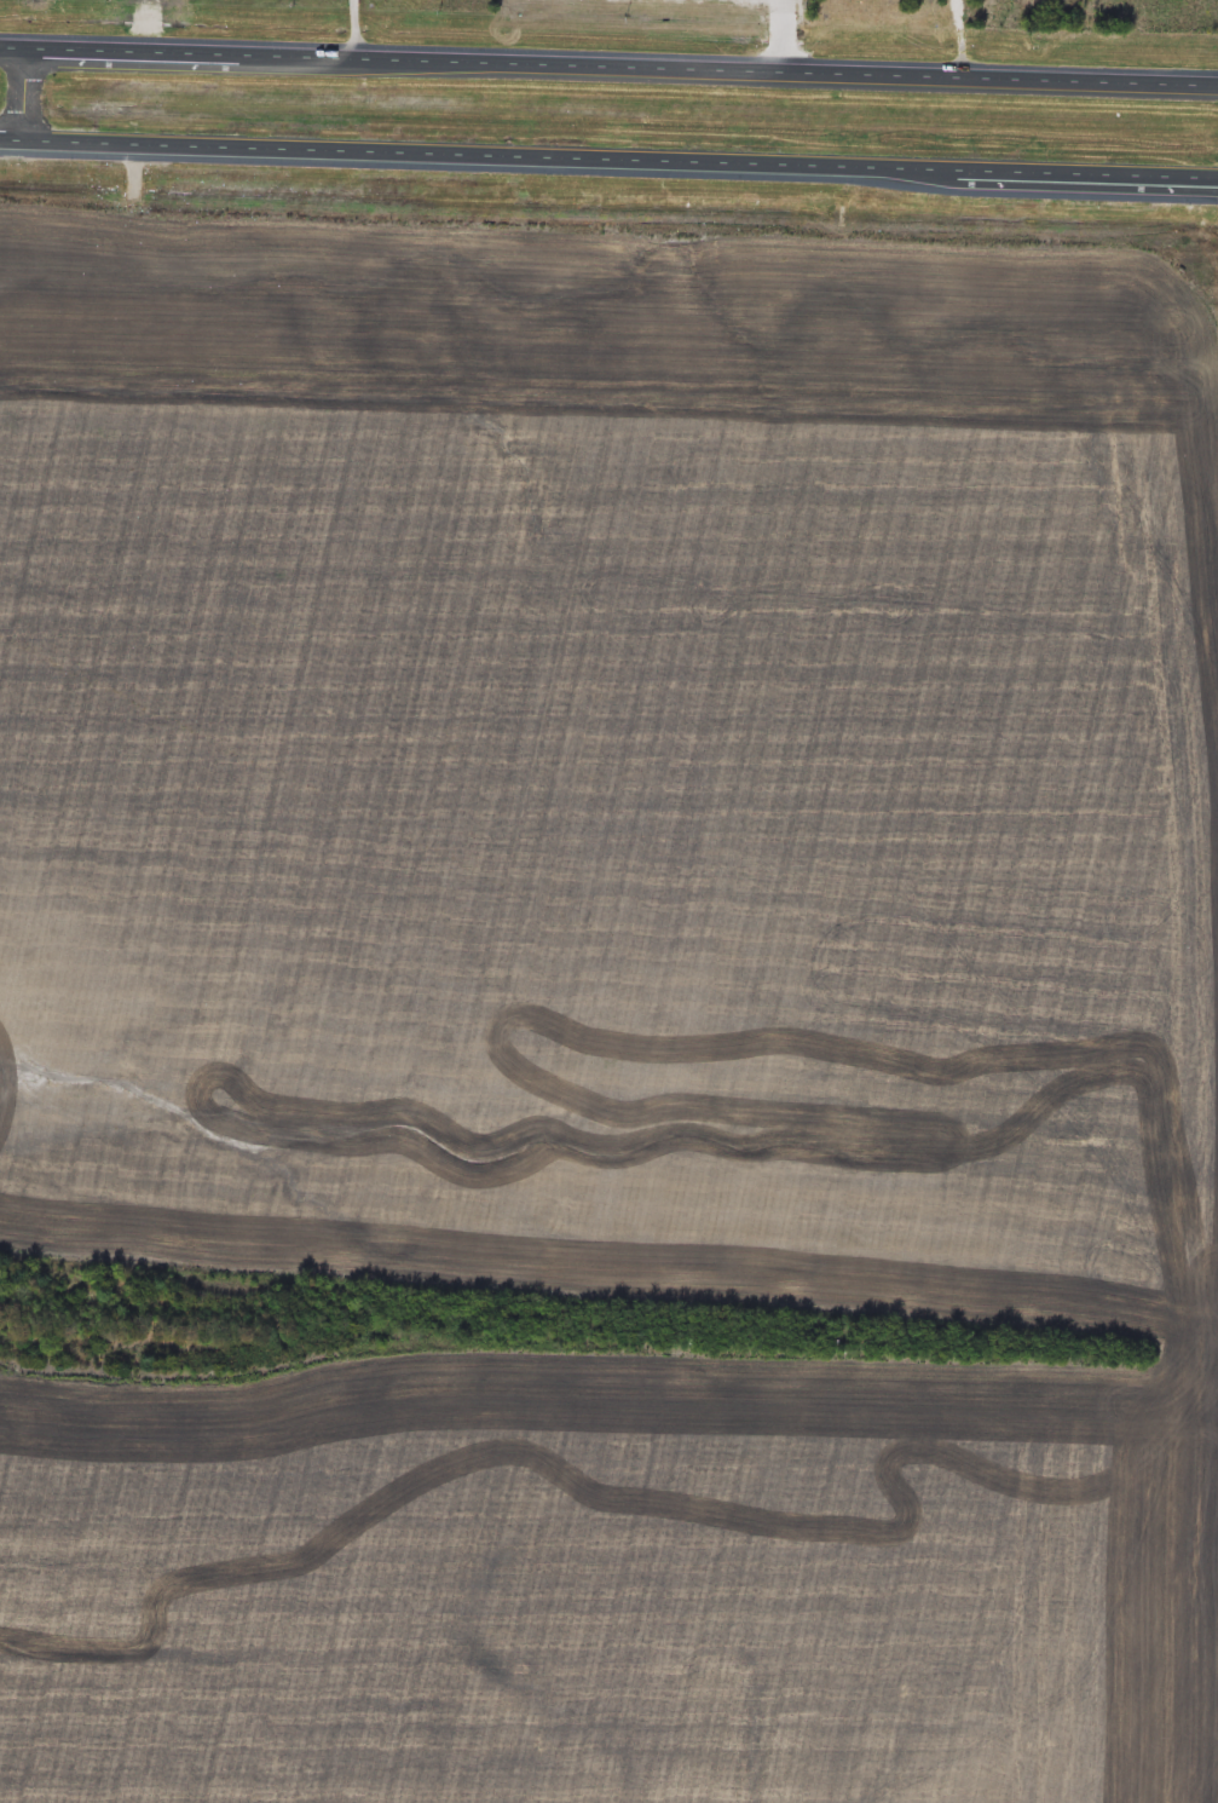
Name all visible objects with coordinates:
road: (359, 29)
road: (786, 34)
road: (608, 64)
road: (608, 162)

